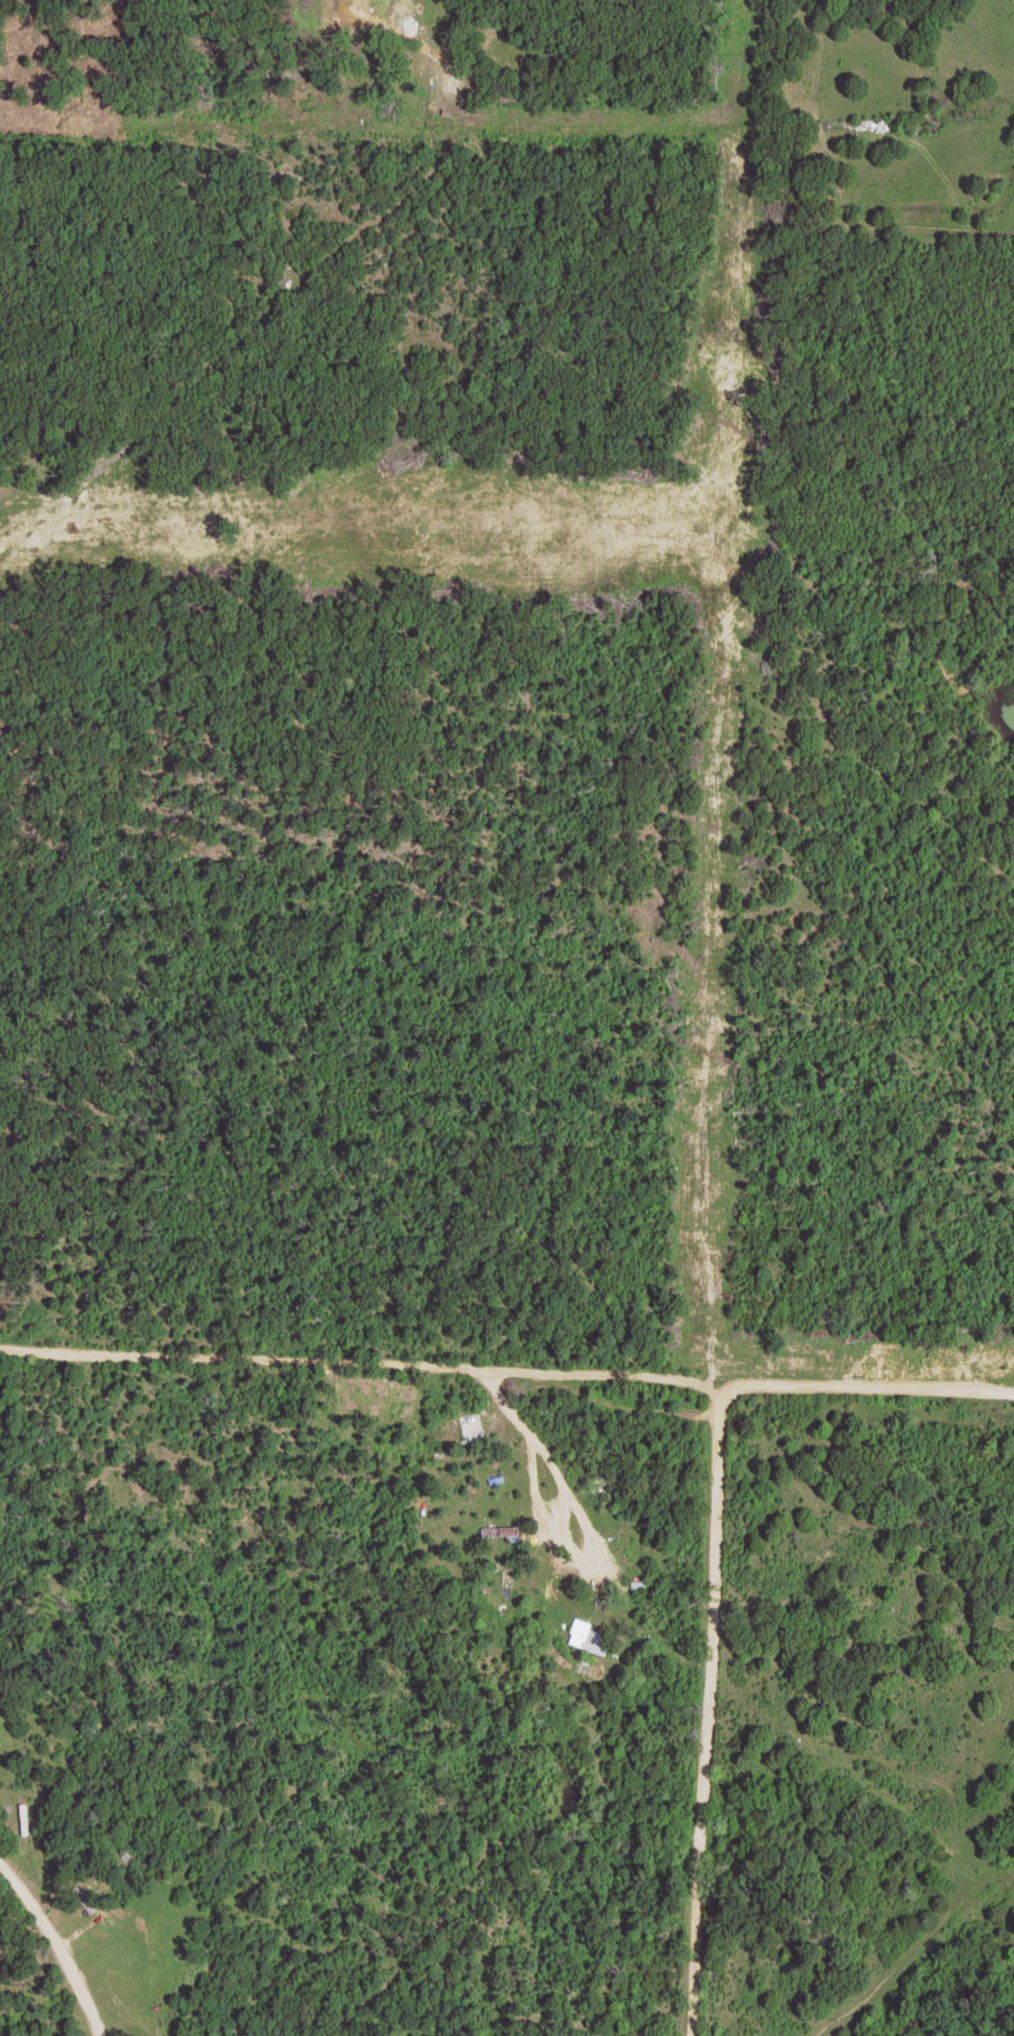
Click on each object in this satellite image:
road: (241, 1362)
road: (877, 1388)
building: (536, 1607)
building: (589, 1638)
road: (710, 1705)
road: (57, 1945)

